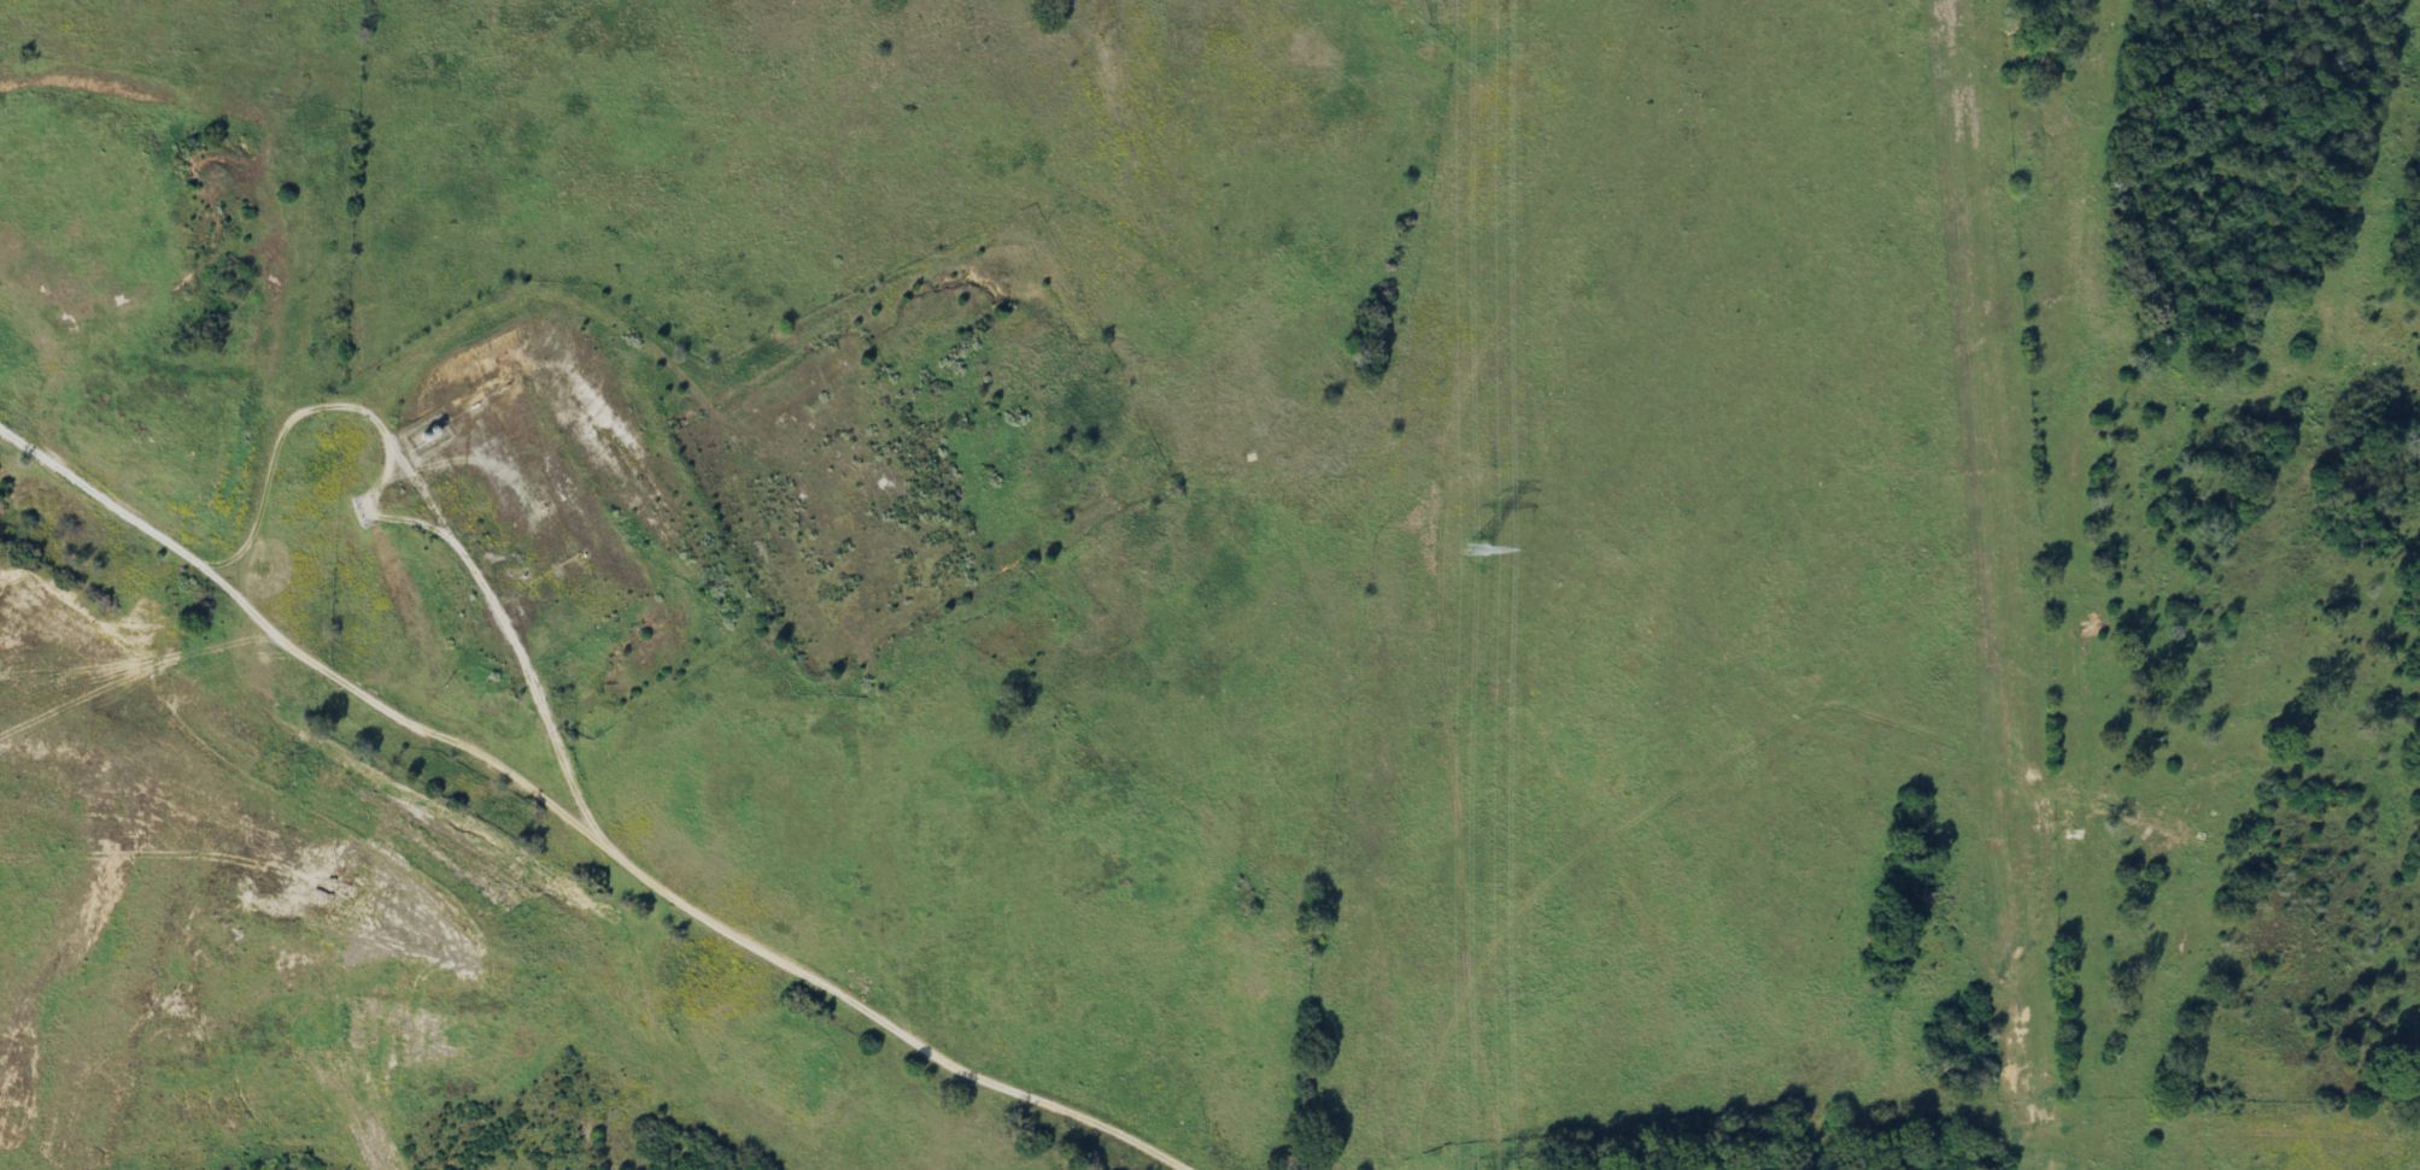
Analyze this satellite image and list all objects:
power tower: (1477, 549)

